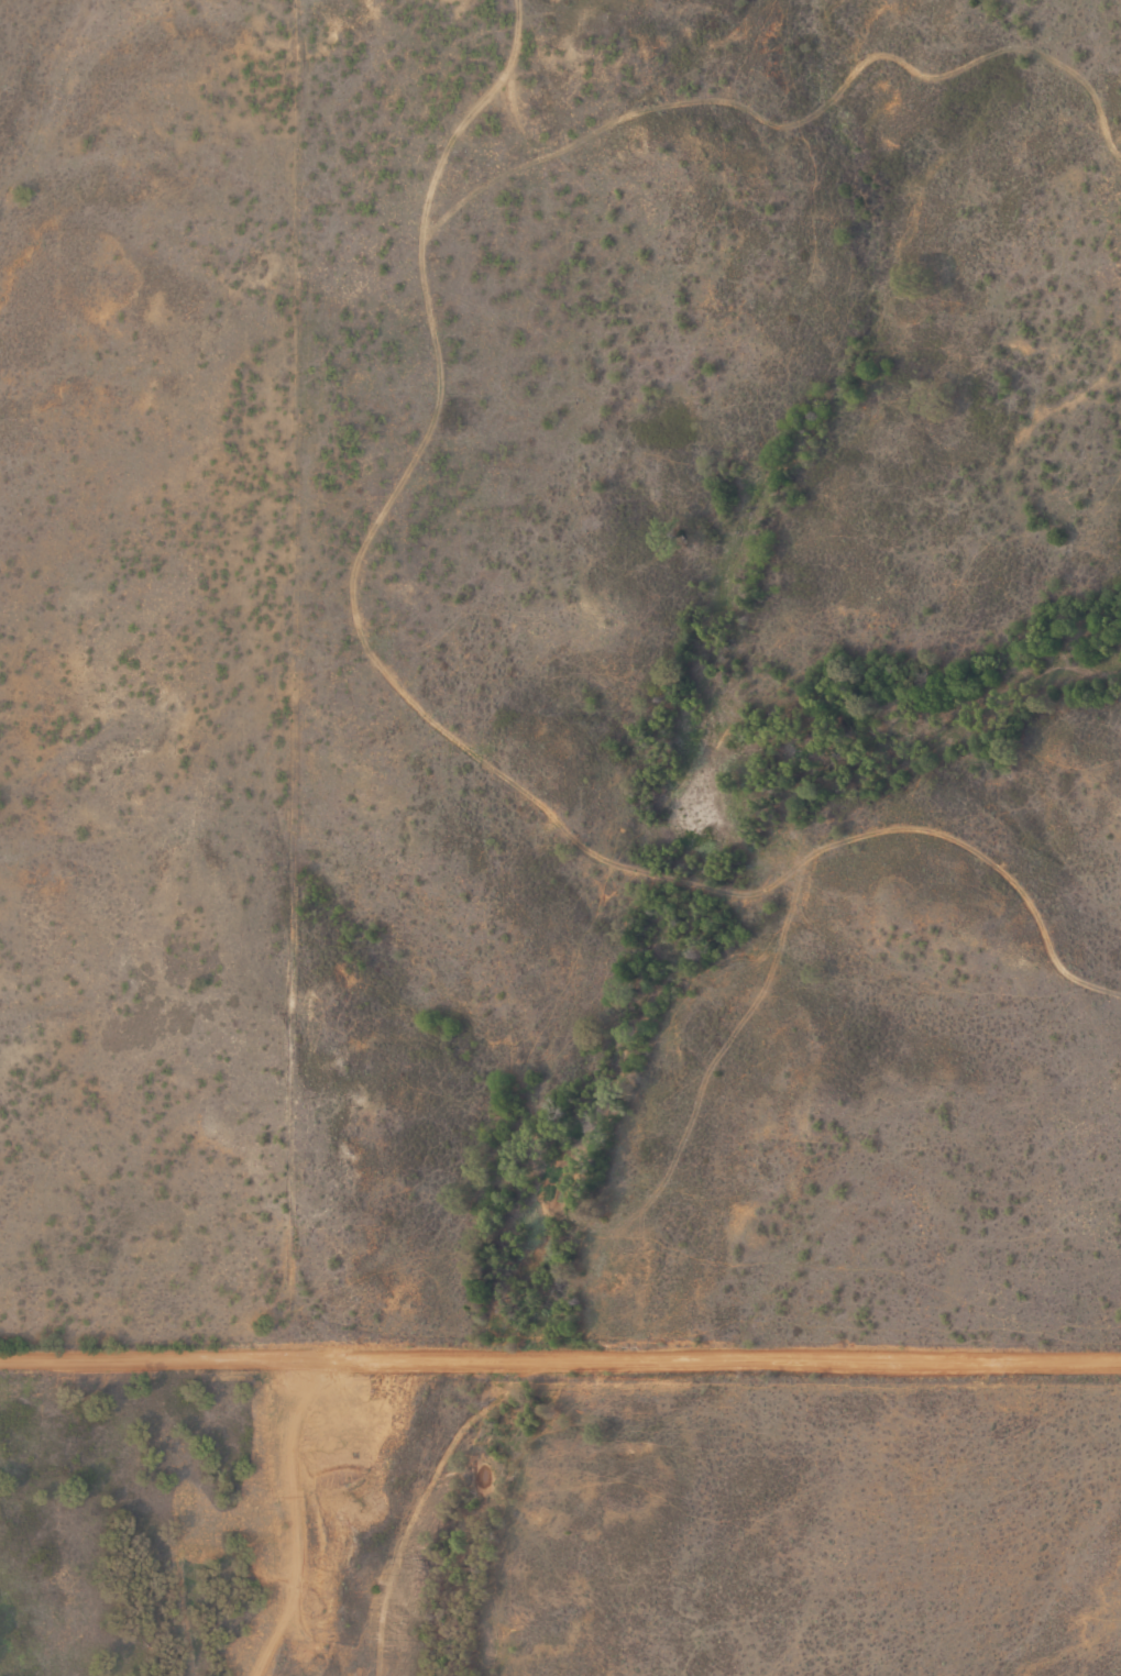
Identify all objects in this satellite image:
road: (560, 1360)

